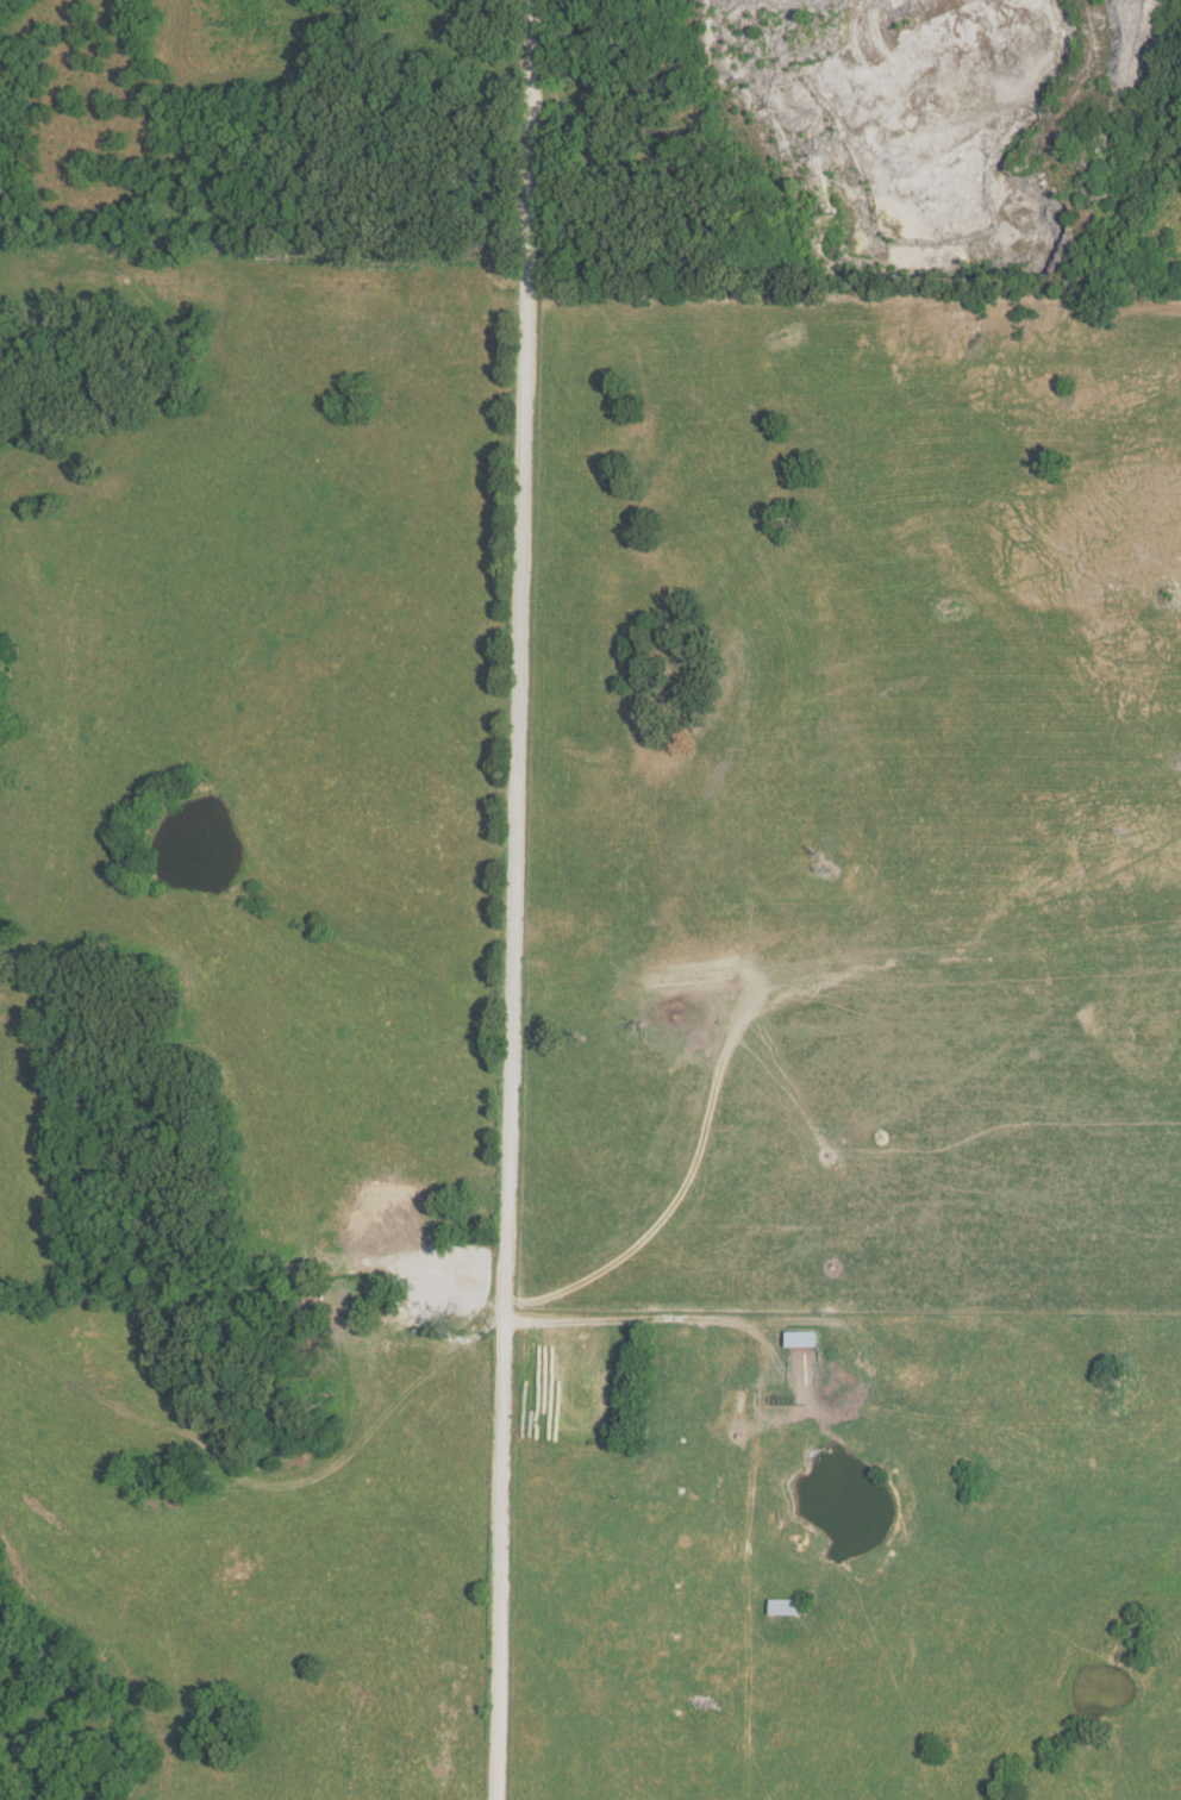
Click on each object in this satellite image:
road: (514, 900)
building: (461, 1283)
road: (843, 1308)
building: (801, 1338)
road: (748, 1395)
building: (786, 1607)

